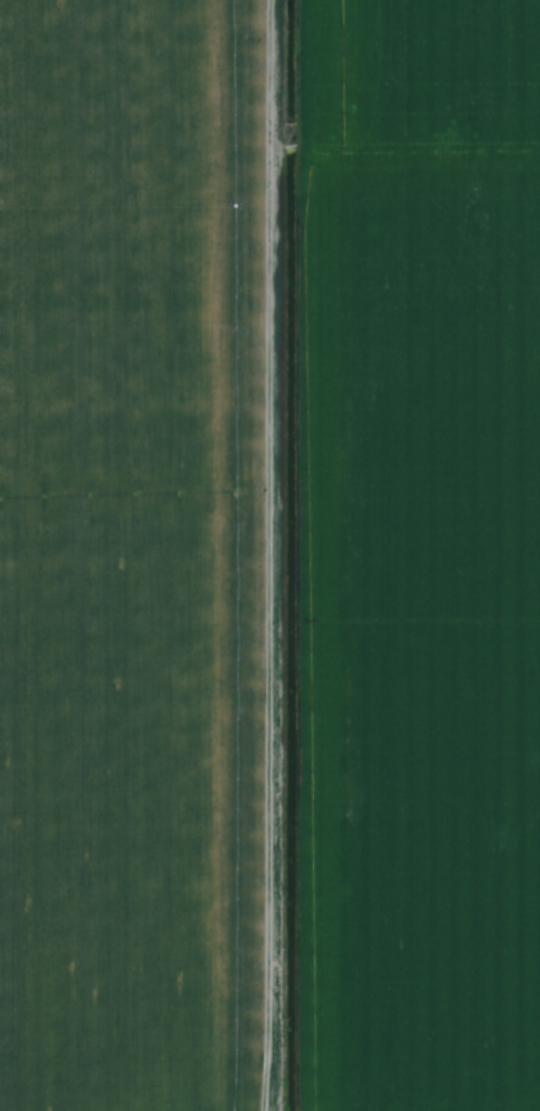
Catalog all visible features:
road: (277, 555)

